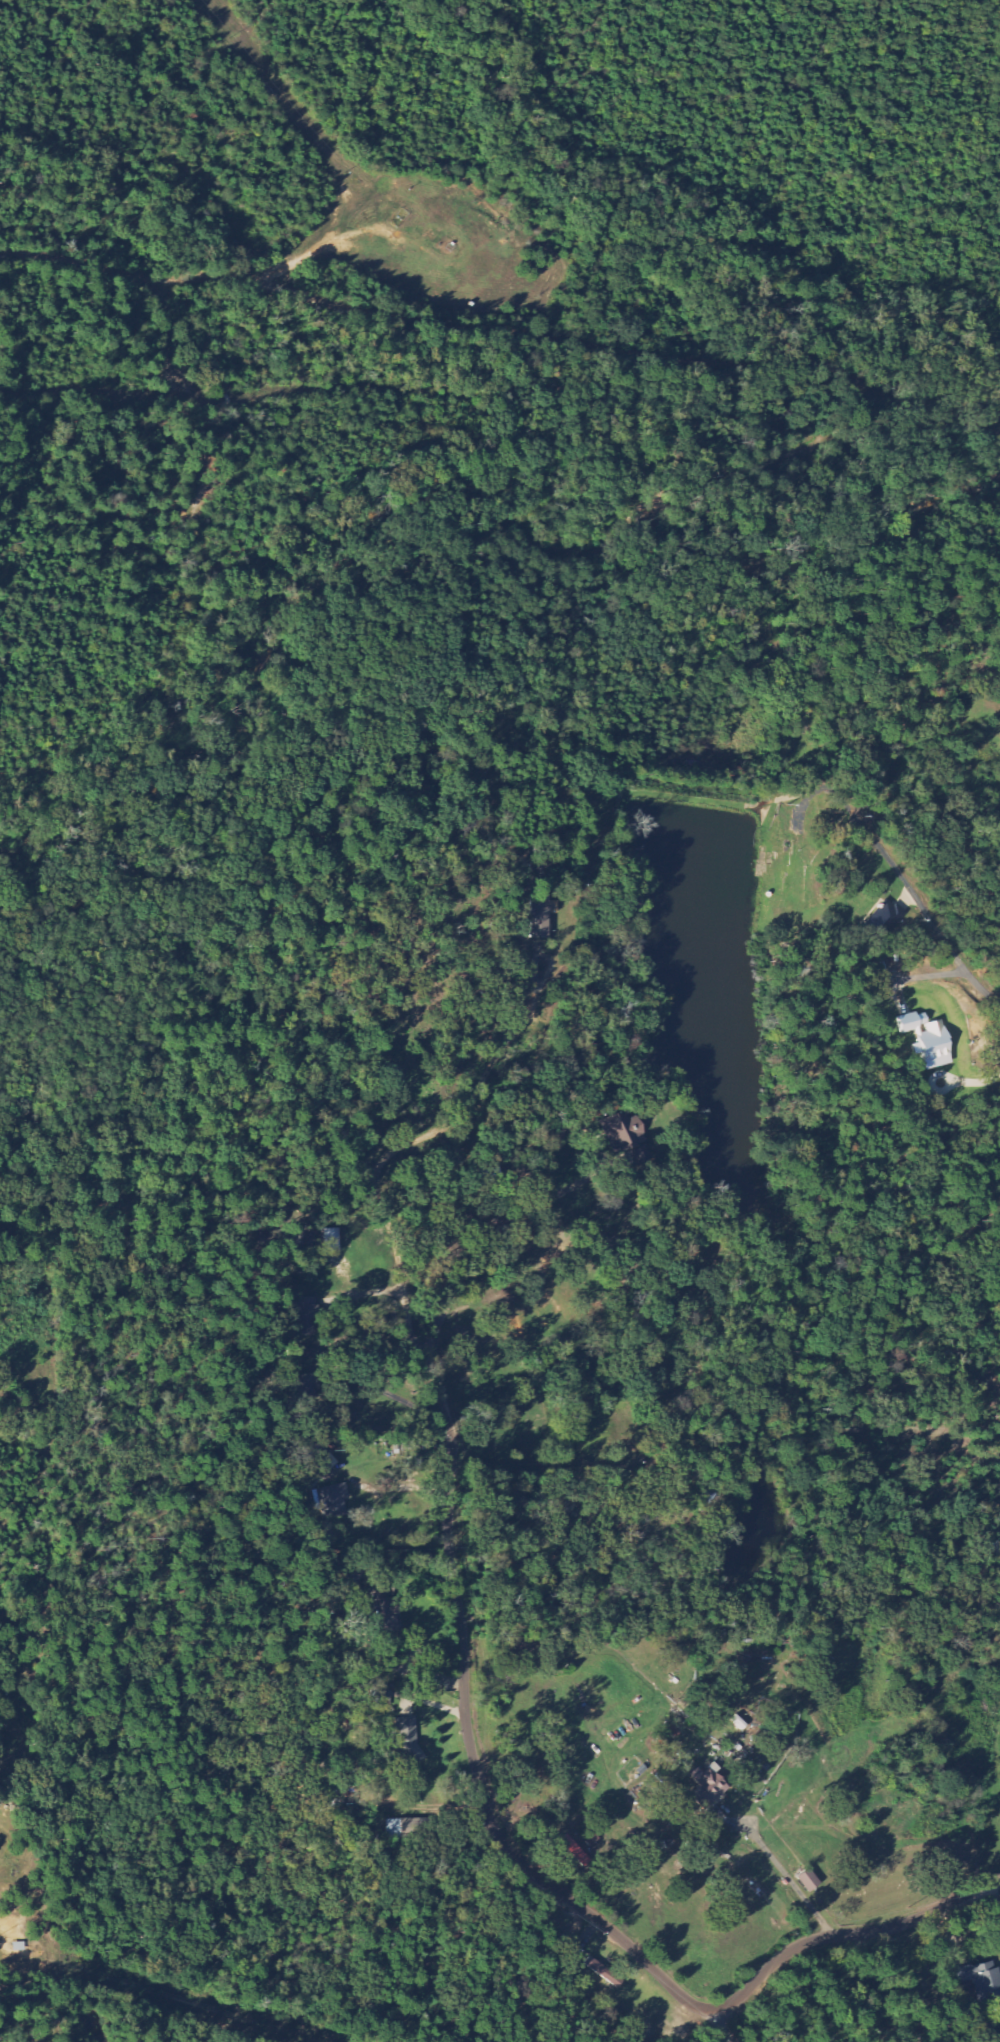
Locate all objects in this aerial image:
road: (924, 907)
building: (540, 917)
building: (886, 918)
building: (928, 1040)
building: (491, 1176)
building: (334, 1239)
building: (305, 1315)
building: (297, 1355)
building: (307, 1388)
building: (322, 1458)
building: (334, 1501)
building: (385, 1615)
building: (382, 1696)
building: (409, 1741)
building: (708, 1786)
building: (393, 1828)
building: (575, 1851)
building: (809, 1881)
road: (570, 1899)
building: (603, 1972)
building: (982, 1979)
road: (719, 2027)

